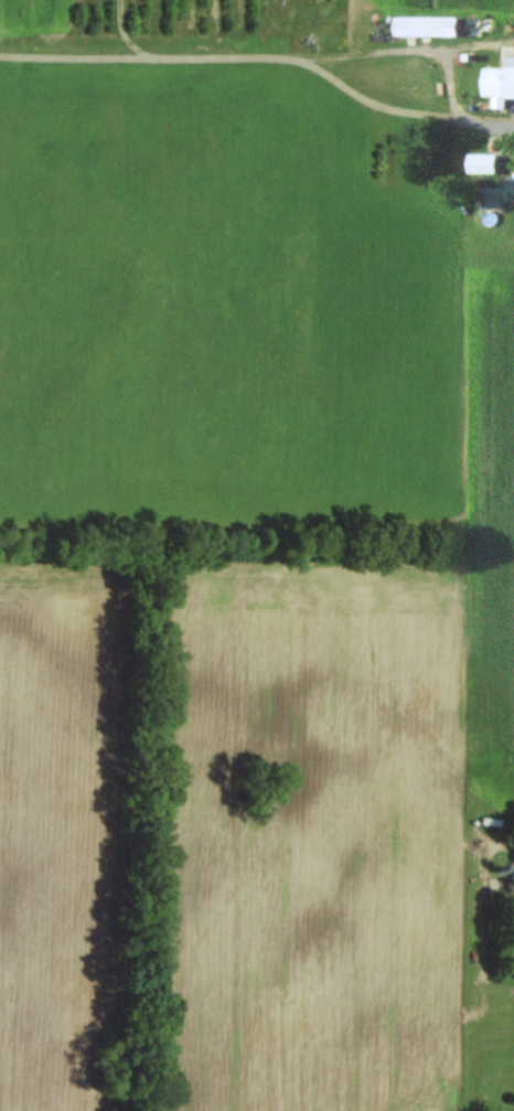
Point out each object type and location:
building: (433, 26)
road: (318, 56)
building: (499, 84)
road: (481, 128)
building: (480, 164)
building: (496, 196)
building: (508, 873)

